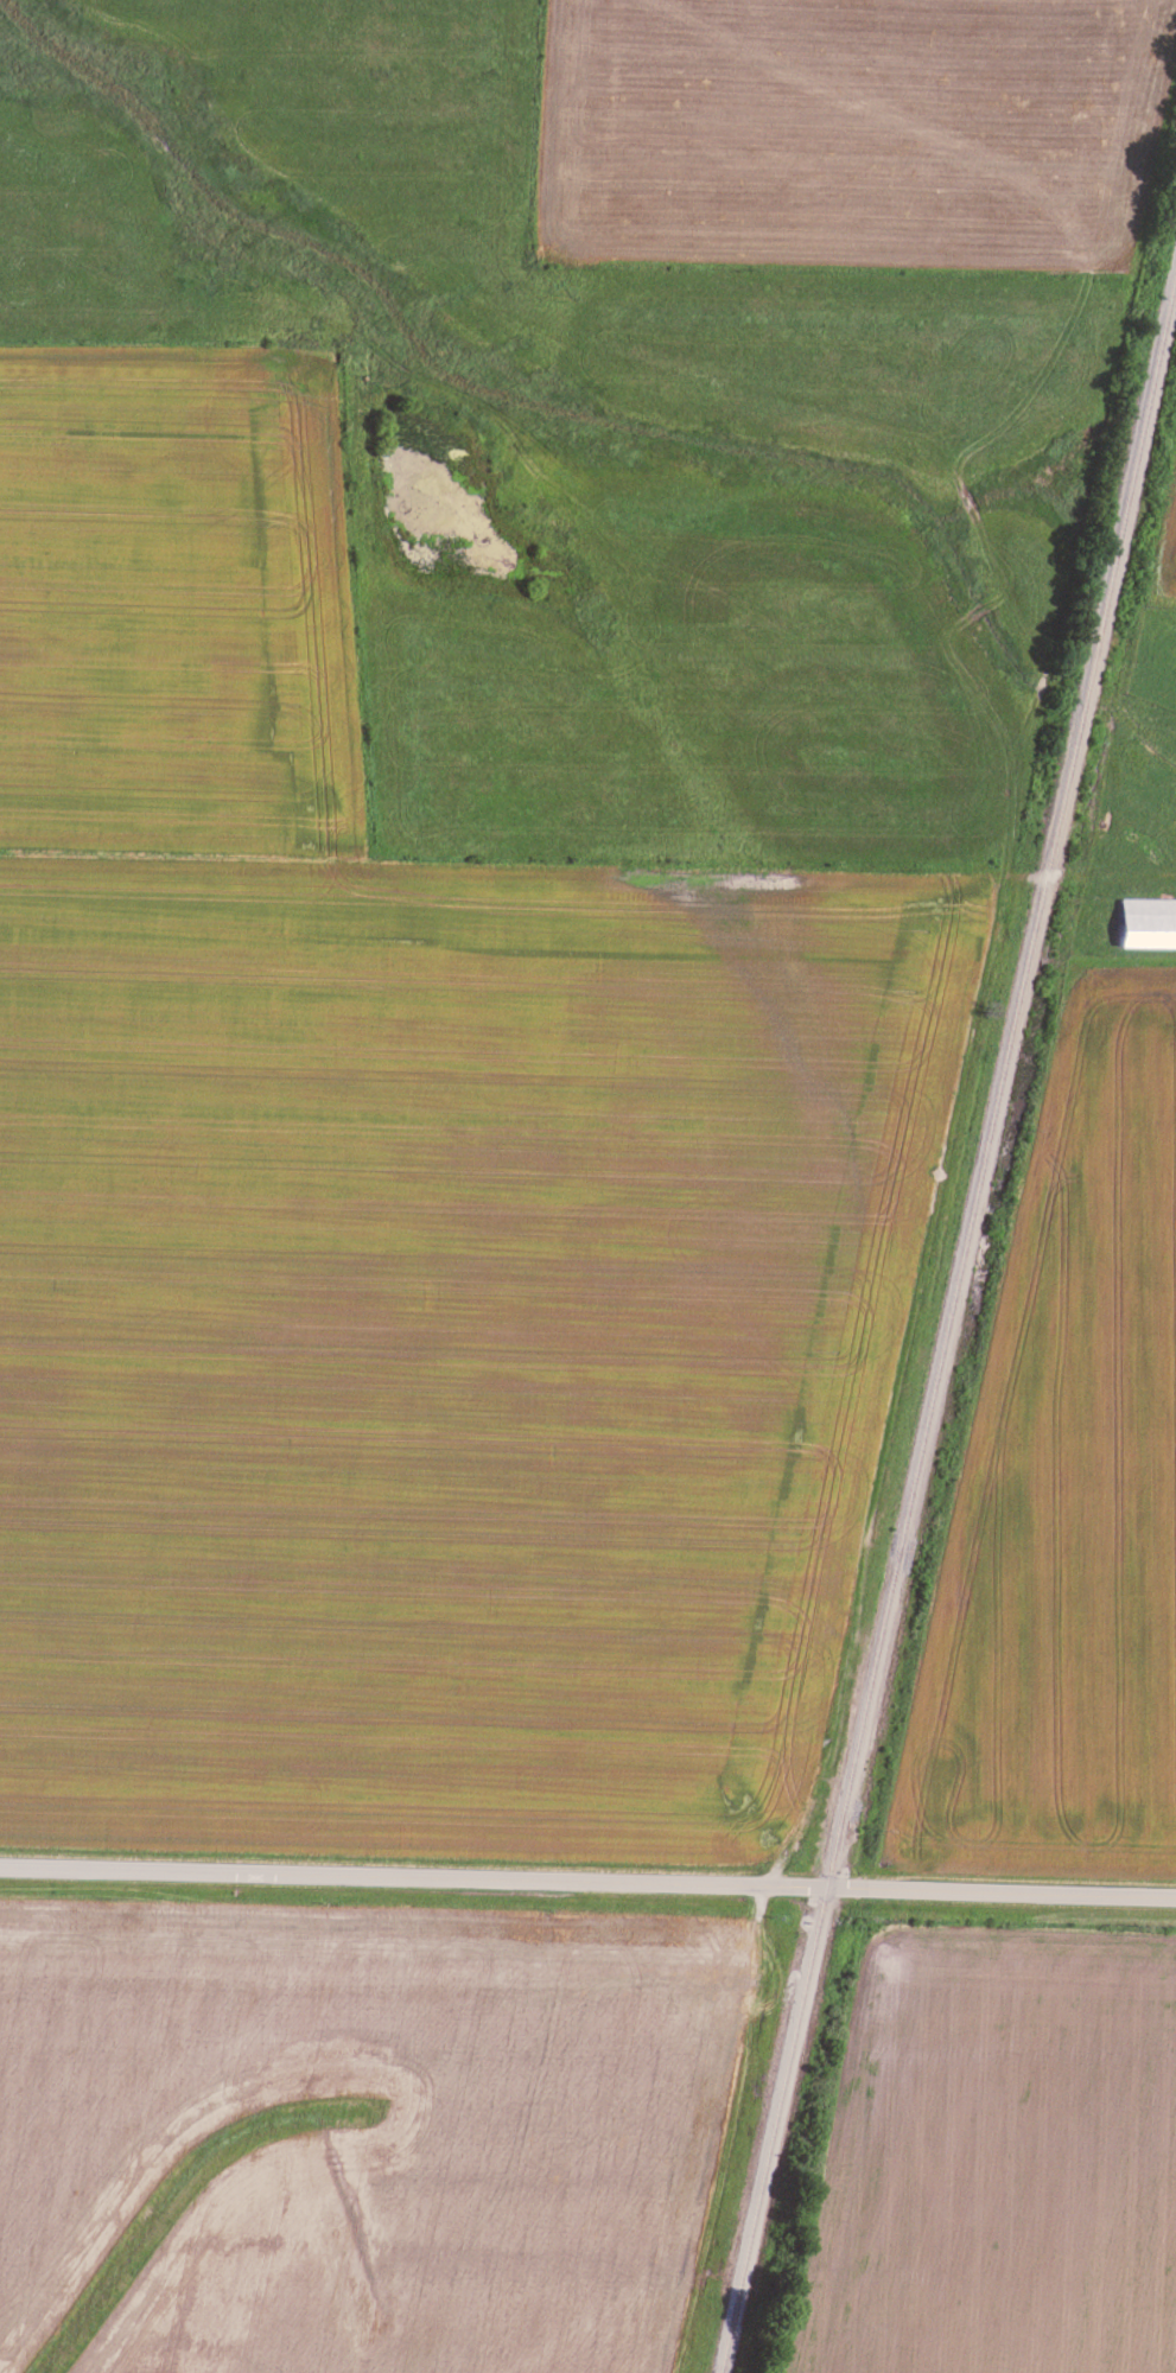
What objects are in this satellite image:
railway: (948, 1332)
road: (587, 1883)

